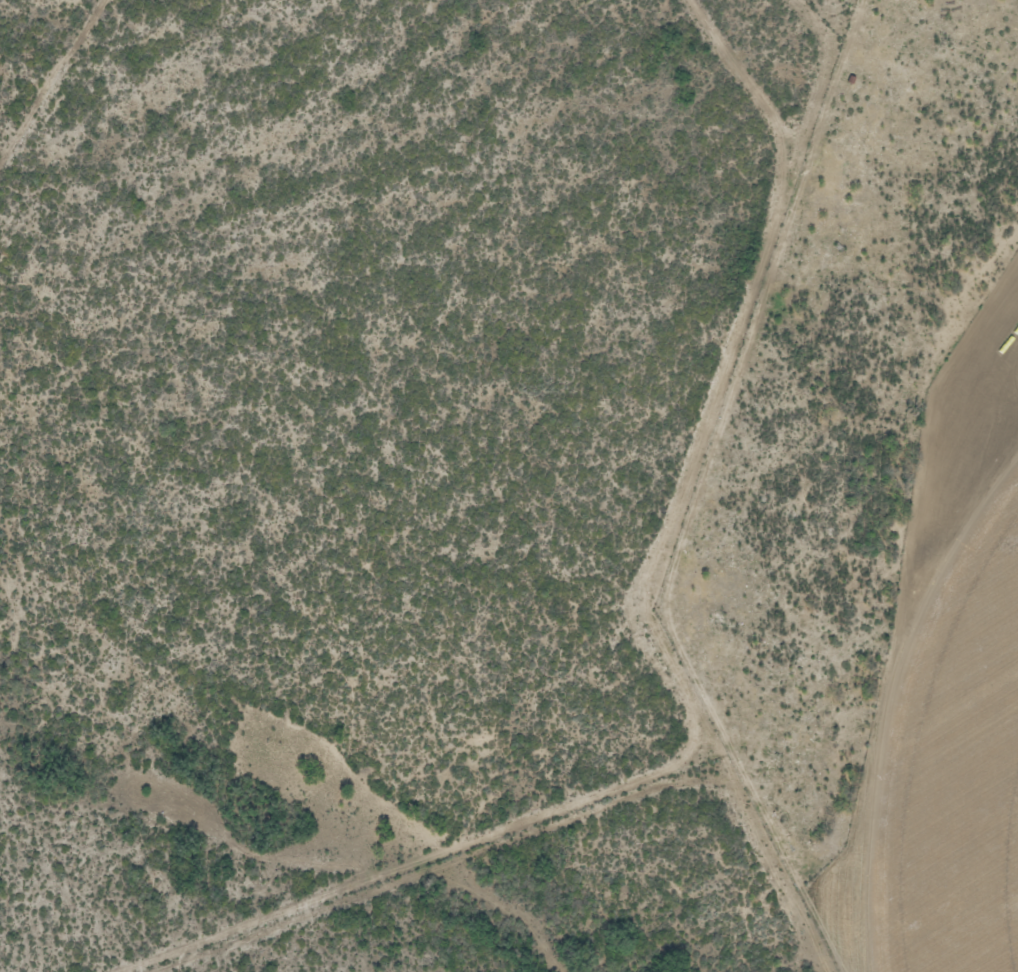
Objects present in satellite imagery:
road: (684, 492)

